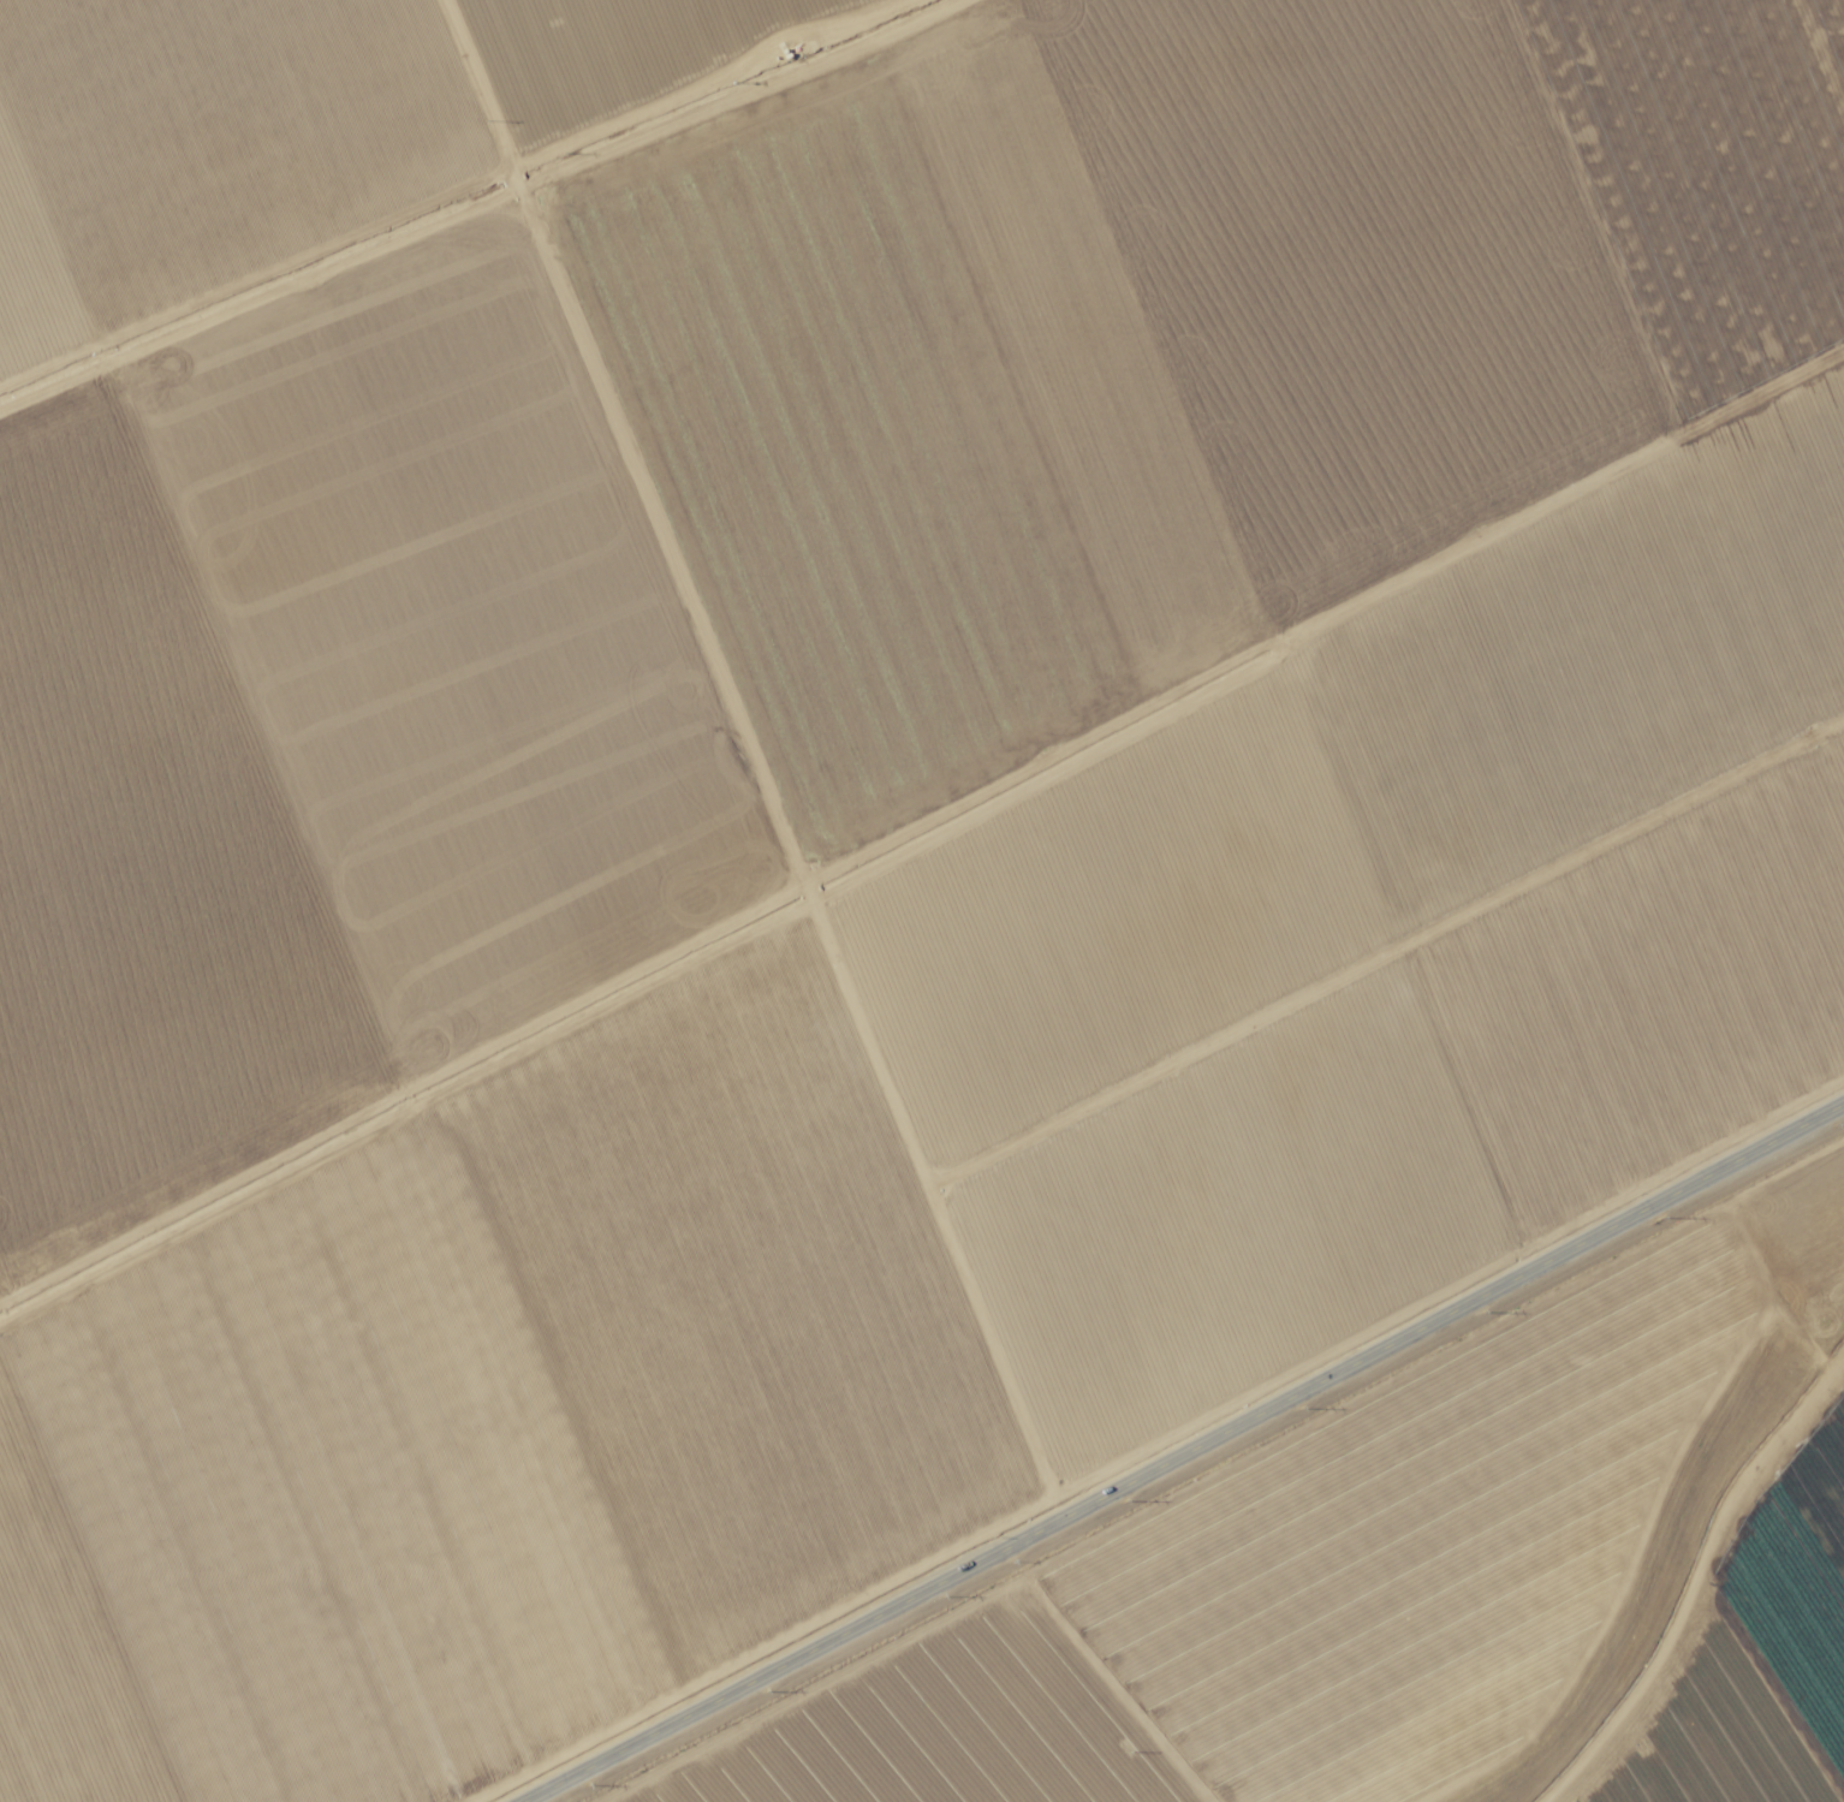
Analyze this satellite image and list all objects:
road: (444, 192)
crop: (922, 900)
road: (1186, 1452)
road: (1742, 1651)

